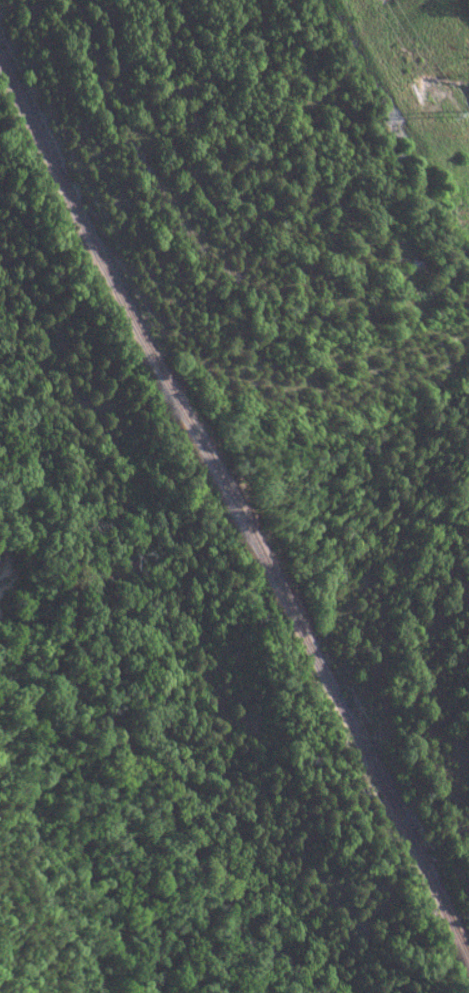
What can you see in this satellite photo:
airport: (441, 44)
power tower: (445, 117)
railway: (235, 510)

